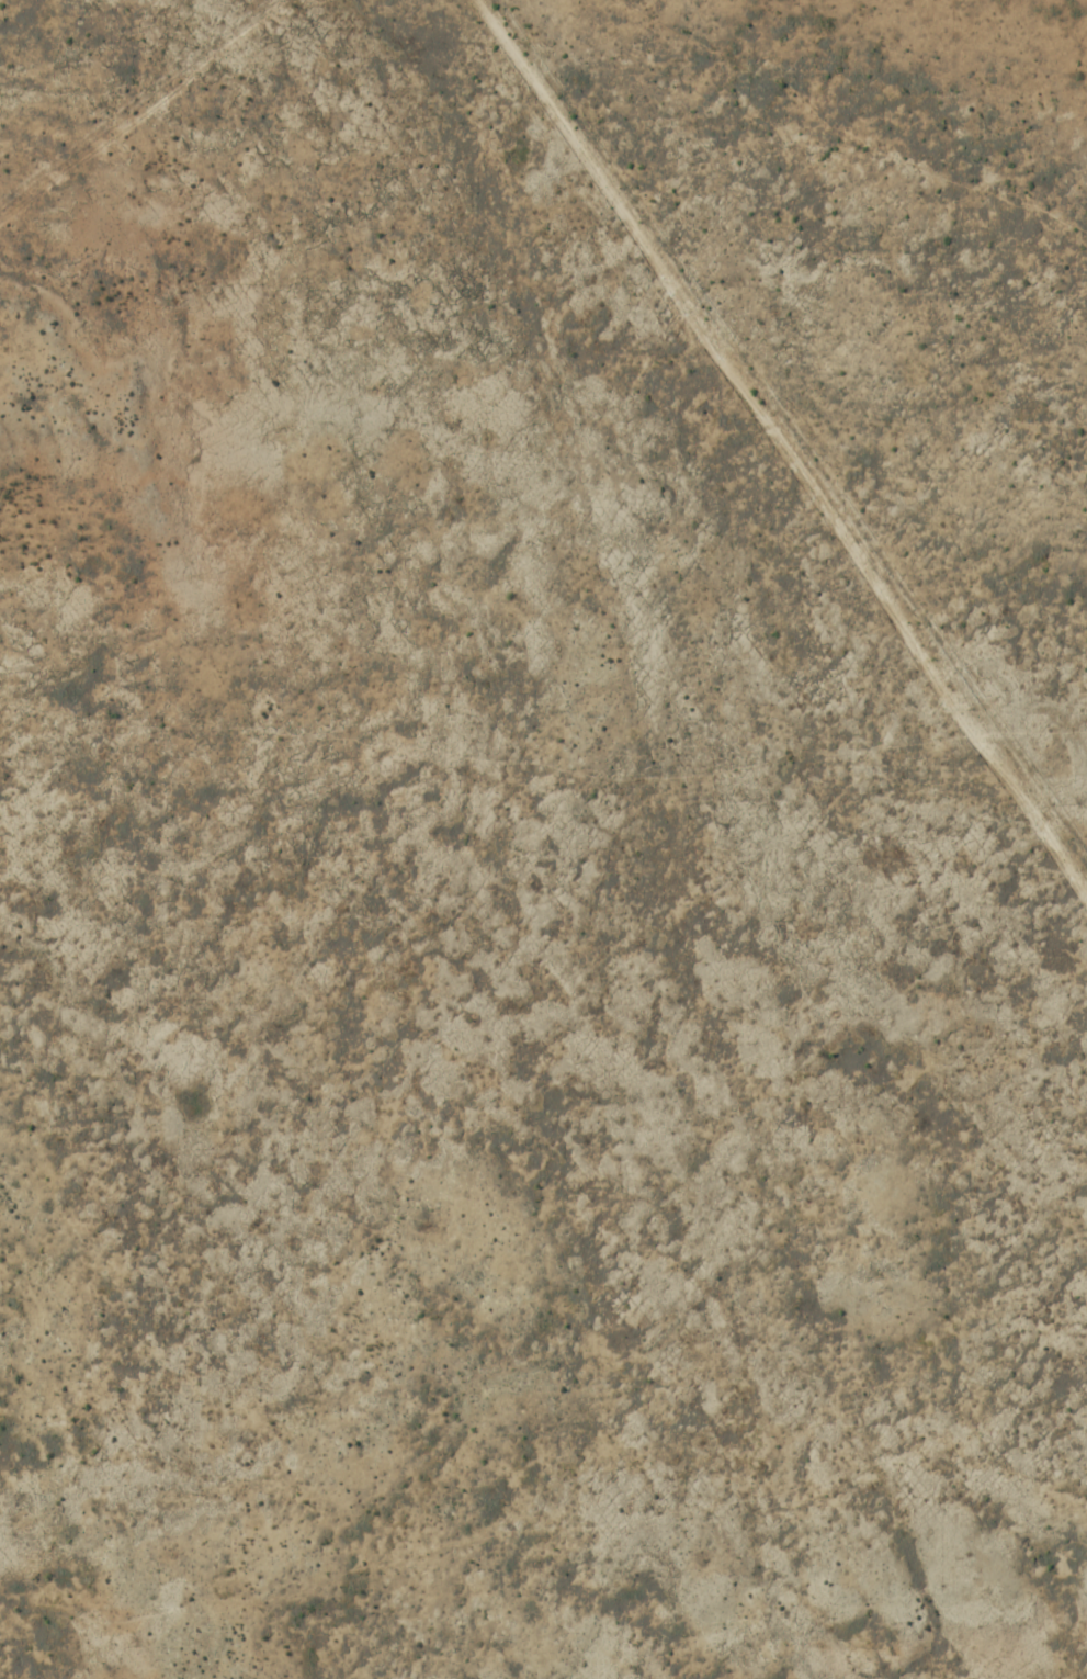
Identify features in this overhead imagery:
road: (140, 108)
road: (786, 442)

